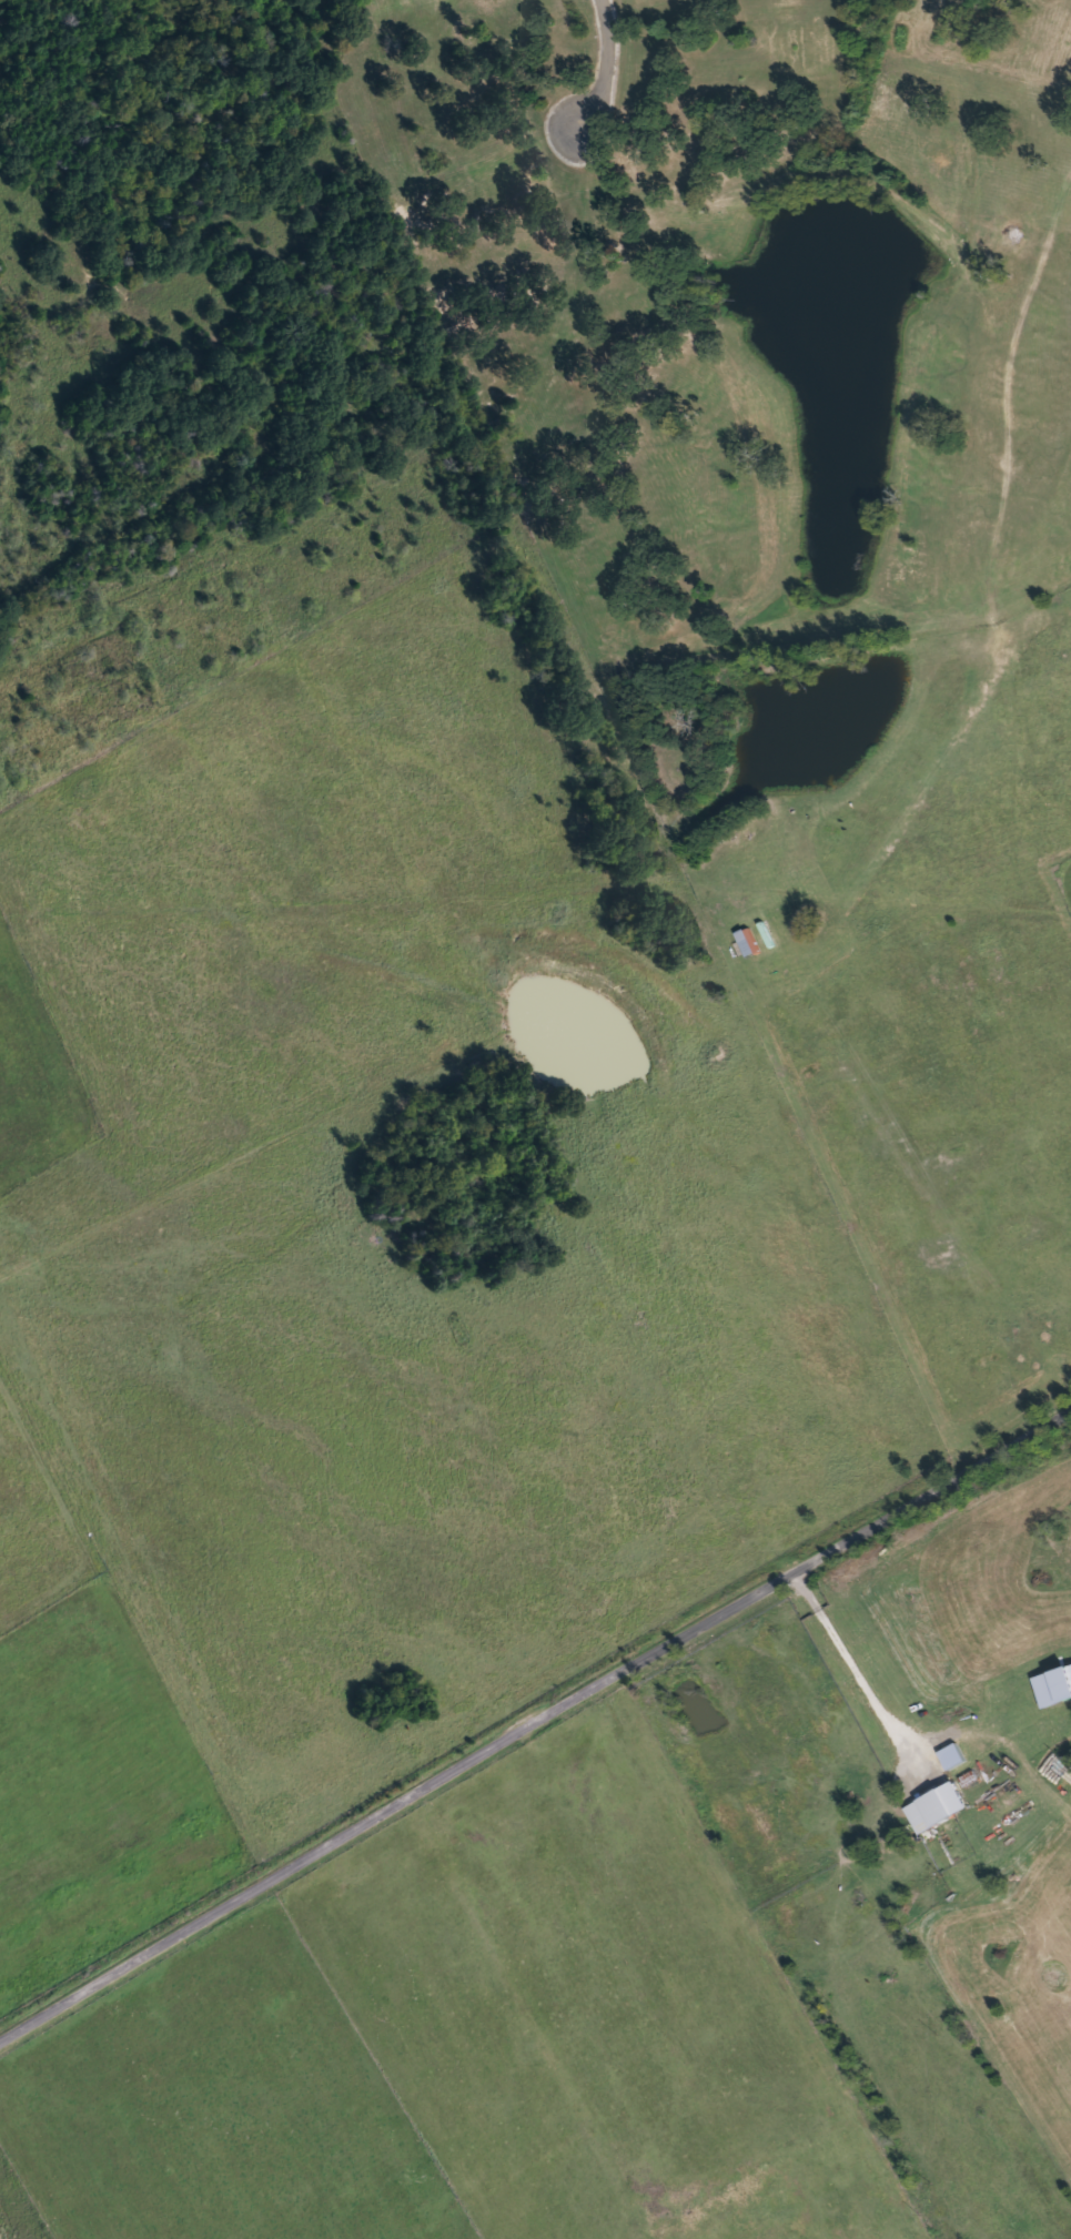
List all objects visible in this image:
road: (604, 65)
building: (750, 943)
building: (1055, 1688)
road: (901, 1719)
road: (536, 1723)
building: (939, 1809)
building: (780, 2201)

